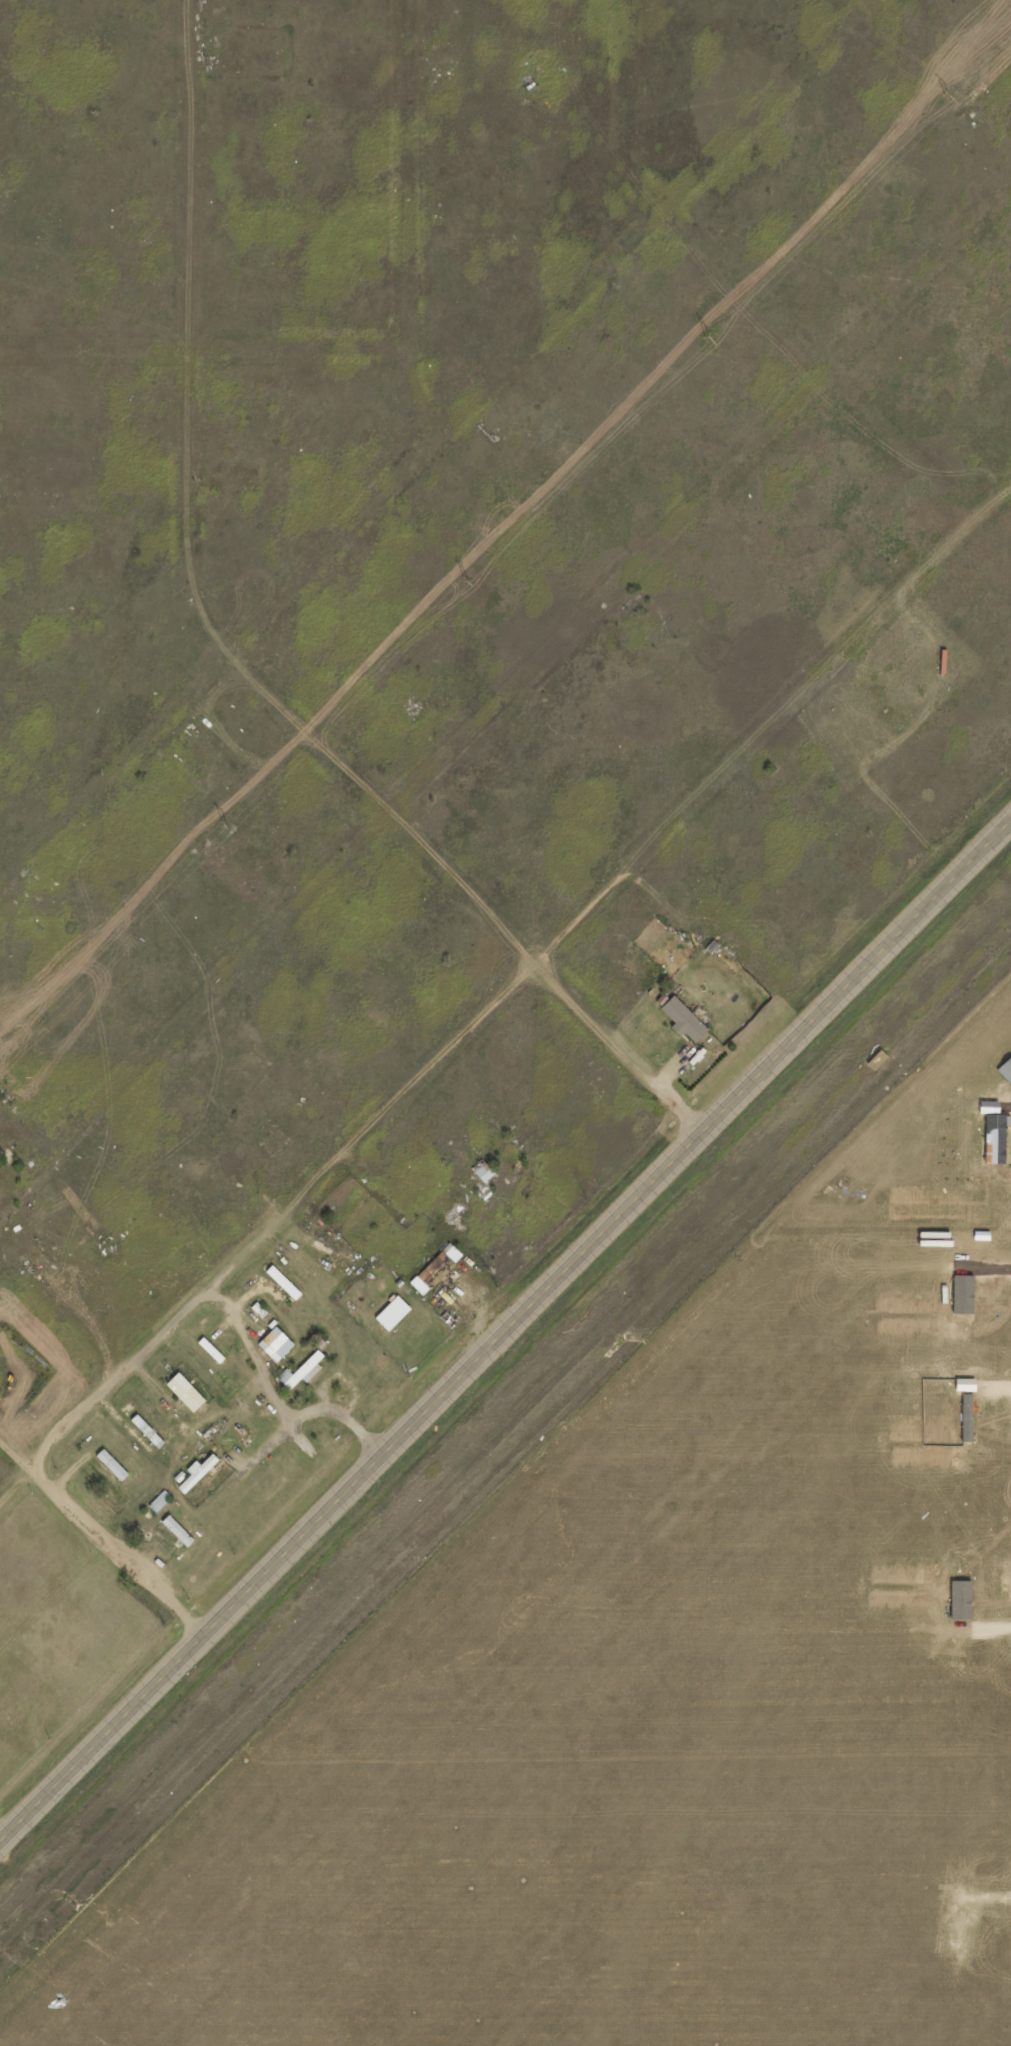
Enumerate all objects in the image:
road: (848, 13)
power tower: (942, 95)
road: (408, 224)
road: (745, 284)
power tower: (704, 338)
road: (204, 349)
road: (437, 437)
power tower: (463, 583)
road: (221, 660)
road: (502, 691)
power tower: (222, 827)
road: (504, 993)
building: (682, 1018)
building: (484, 1171)
building: (283, 1281)
building: (419, 1284)
building: (392, 1311)
road: (505, 1331)
building: (275, 1343)
building: (301, 1370)
building: (185, 1391)
building: (111, 1463)
building: (195, 1471)
building: (160, 1499)
building: (177, 1529)
road: (103, 1534)

